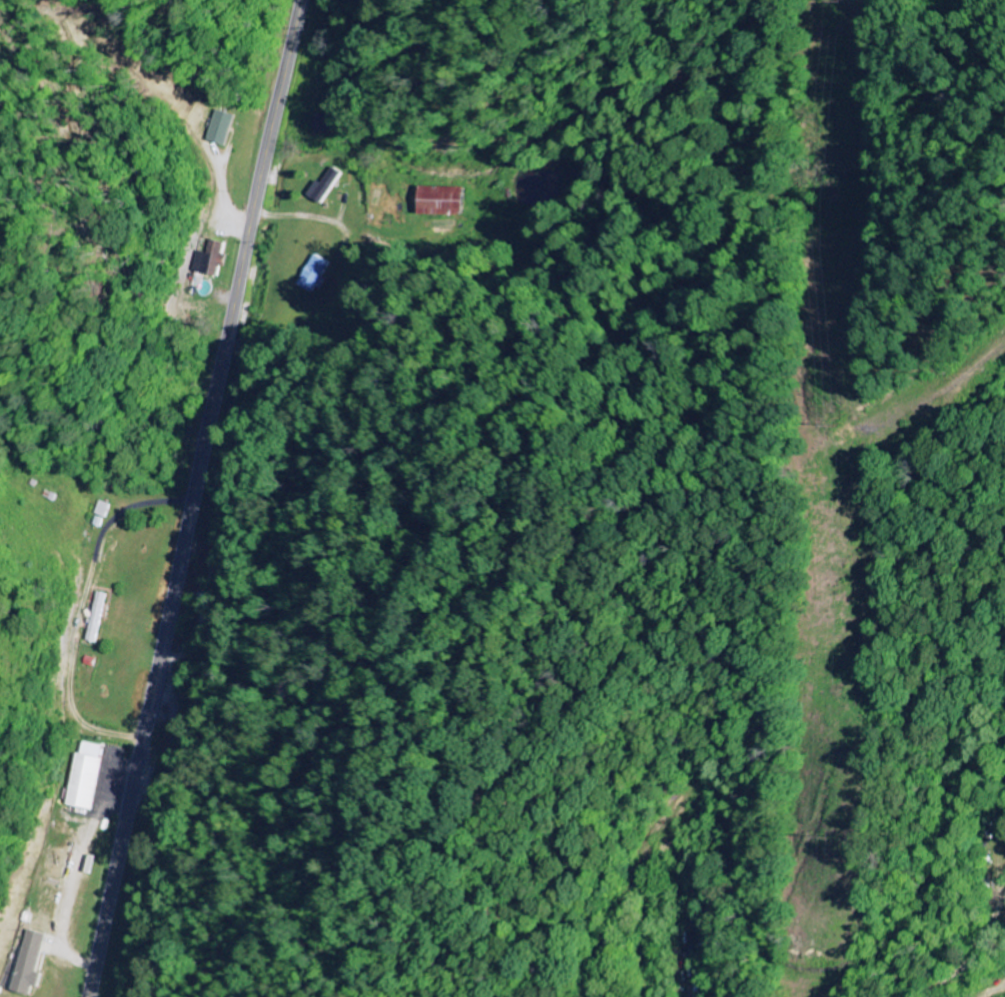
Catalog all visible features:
power tower: (830, 0)
building: (221, 129)
building: (328, 186)
building: (446, 202)
building: (211, 259)
building: (317, 275)
power tower: (824, 423)
road: (193, 498)
building: (95, 618)
building: (86, 778)
power tower: (821, 838)
building: (28, 965)

